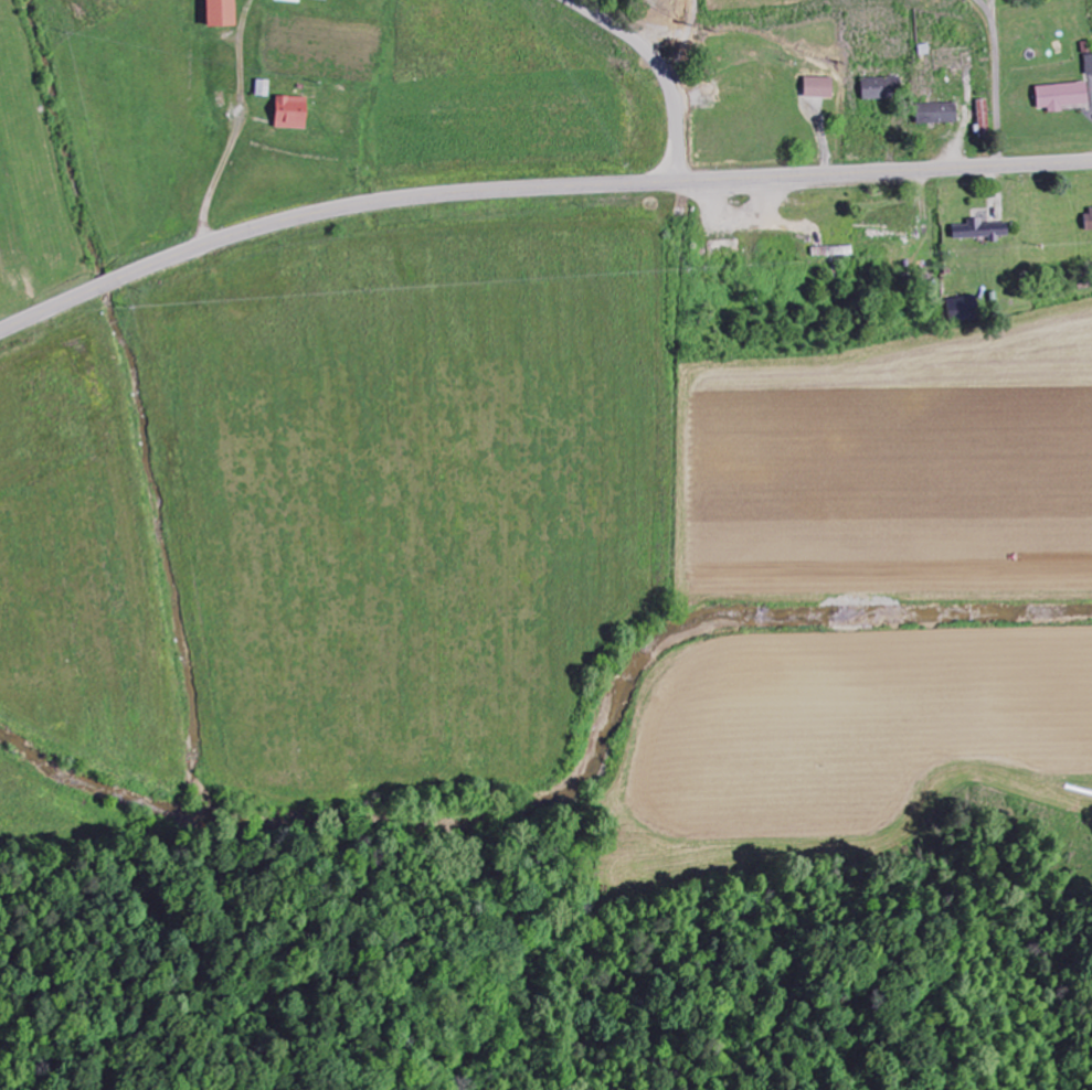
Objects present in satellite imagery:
building: (294, 0)
building: (327, 0)
building: (223, 13)
building: (1089, 63)
road: (664, 70)
road: (998, 79)
building: (821, 86)
building: (264, 87)
building: (883, 87)
building: (1062, 95)
building: (293, 111)
building: (939, 113)
building: (984, 113)
road: (534, 188)
building: (1089, 220)
building: (983, 229)
building: (965, 308)

